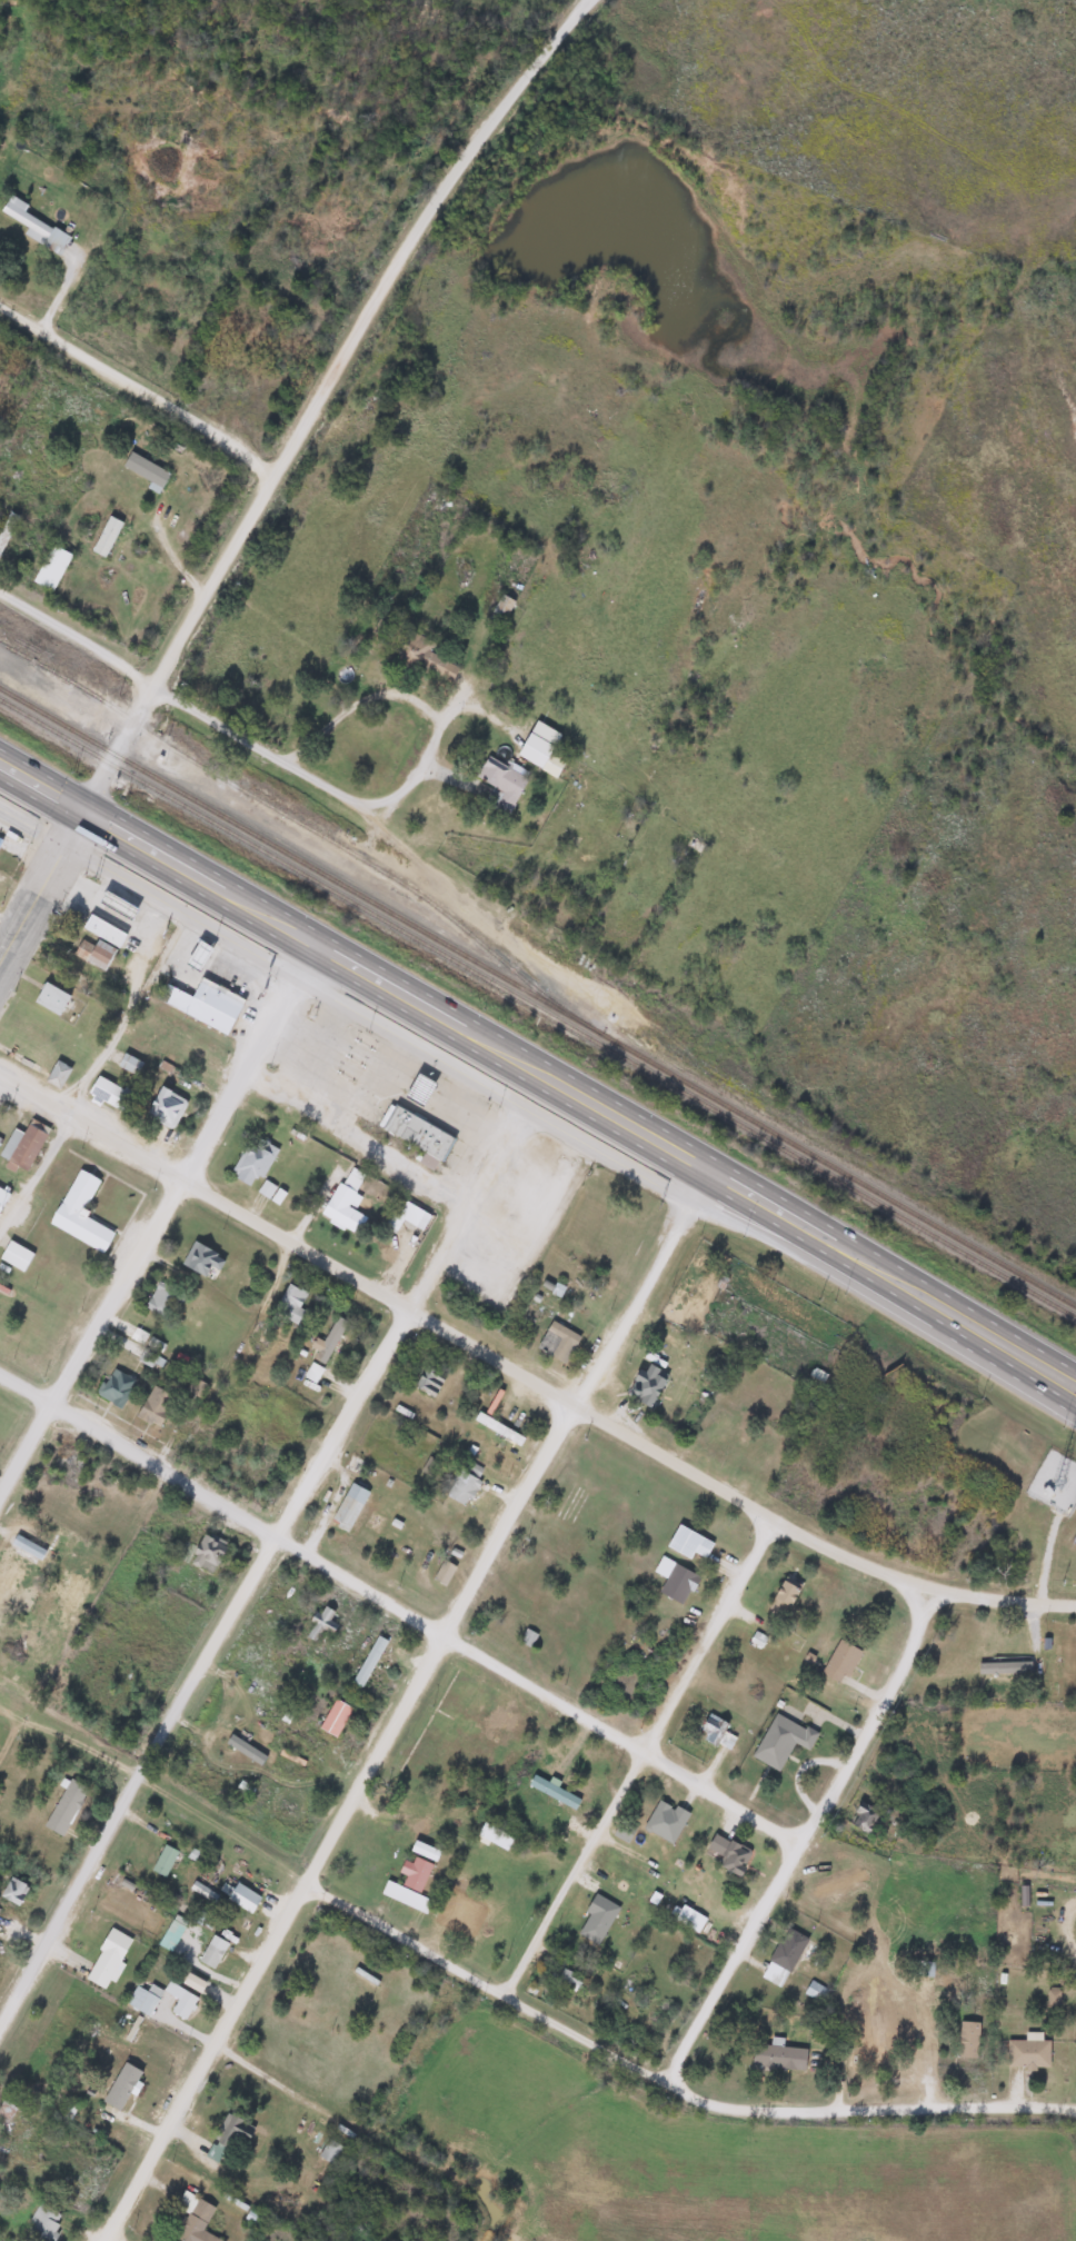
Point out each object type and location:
road: (506, 104)
building: (26, 220)
road: (136, 391)
building: (143, 469)
road: (267, 484)
building: (6, 529)
building: (106, 537)
building: (50, 568)
building: (425, 657)
road: (526, 725)
road: (248, 740)
building: (540, 755)
road: (99, 783)
building: (499, 784)
road: (41, 787)
building: (0, 838)
road: (41, 886)
building: (116, 905)
road: (8, 928)
building: (103, 930)
building: (93, 953)
building: (197, 955)
building: (50, 998)
railway: (538, 998)
building: (205, 1004)
railway: (537, 1009)
building: (22, 1049)
building: (193, 1054)
building: (129, 1064)
building: (57, 1073)
building: (418, 1089)
building: (109, 1093)
road: (576, 1095)
building: (165, 1108)
building: (414, 1133)
building: (24, 1144)
building: (253, 1161)
road: (32, 1167)
building: (270, 1193)
building: (2, 1196)
building: (343, 1203)
building: (79, 1214)
road: (158, 1224)
building: (380, 1248)
building: (14, 1256)
building: (203, 1263)
building: (162, 1301)
building: (289, 1304)
building: (328, 1339)
building: (556, 1342)
building: (150, 1359)
building: (312, 1373)
road: (525, 1377)
building: (429, 1381)
building: (646, 1385)
road: (1070, 1386)
building: (114, 1387)
road: (1070, 1391)
building: (155, 1407)
building: (714, 1432)
building: (770, 1464)
building: (461, 1488)
building: (348, 1507)
building: (687, 1542)
road: (271, 1546)
building: (206, 1553)
building: (9, 1571)
building: (442, 1572)
building: (674, 1580)
building: (781, 1597)
road: (402, 1608)
building: (320, 1624)
building: (841, 1657)
building: (369, 1660)
building: (1004, 1667)
road: (405, 1709)
building: (333, 1716)
building: (715, 1731)
building: (780, 1740)
road: (638, 1762)
building: (554, 1792)
building: (412, 1800)
building: (64, 1806)
building: (864, 1817)
building: (664, 1820)
building: (622, 1831)
road: (807, 1840)
building: (424, 1850)
building: (734, 1857)
building: (162, 1860)
building: (407, 1884)
building: (838, 1884)
building: (13, 1890)
building: (242, 1895)
building: (211, 1951)
building: (783, 1956)
building: (107, 1958)
building: (565, 1979)
building: (966, 2039)
building: (870, 2050)
building: (1026, 2052)
building: (777, 2056)
road: (670, 2081)
building: (121, 2086)
building: (231, 2129)
building: (332, 2153)
building: (192, 2219)
building: (42, 2224)

